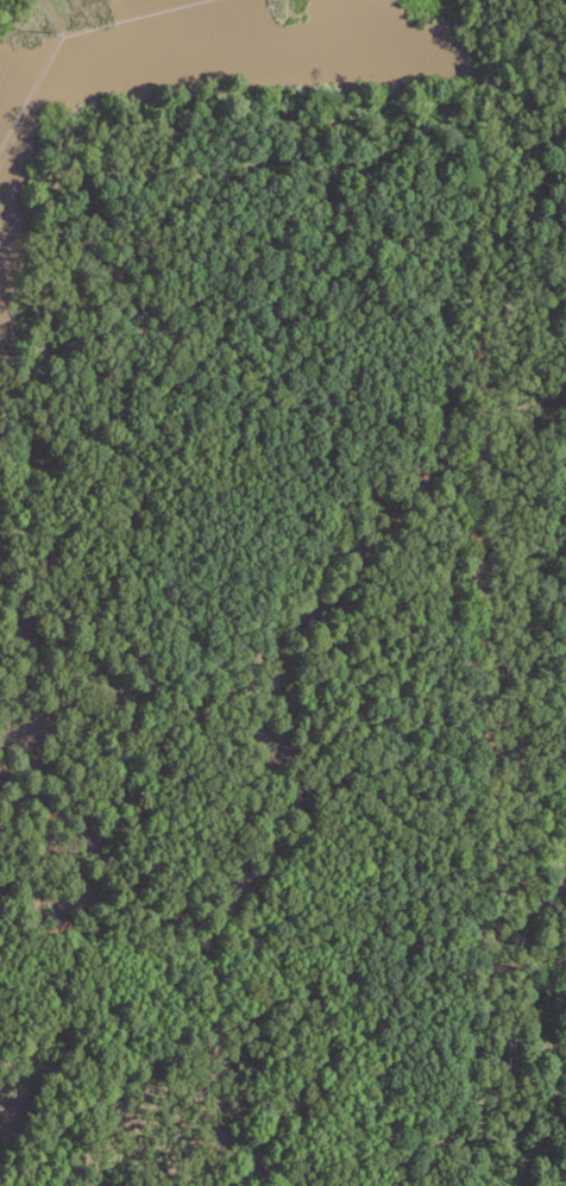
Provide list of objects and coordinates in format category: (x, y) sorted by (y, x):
power tower: (55, 30)

